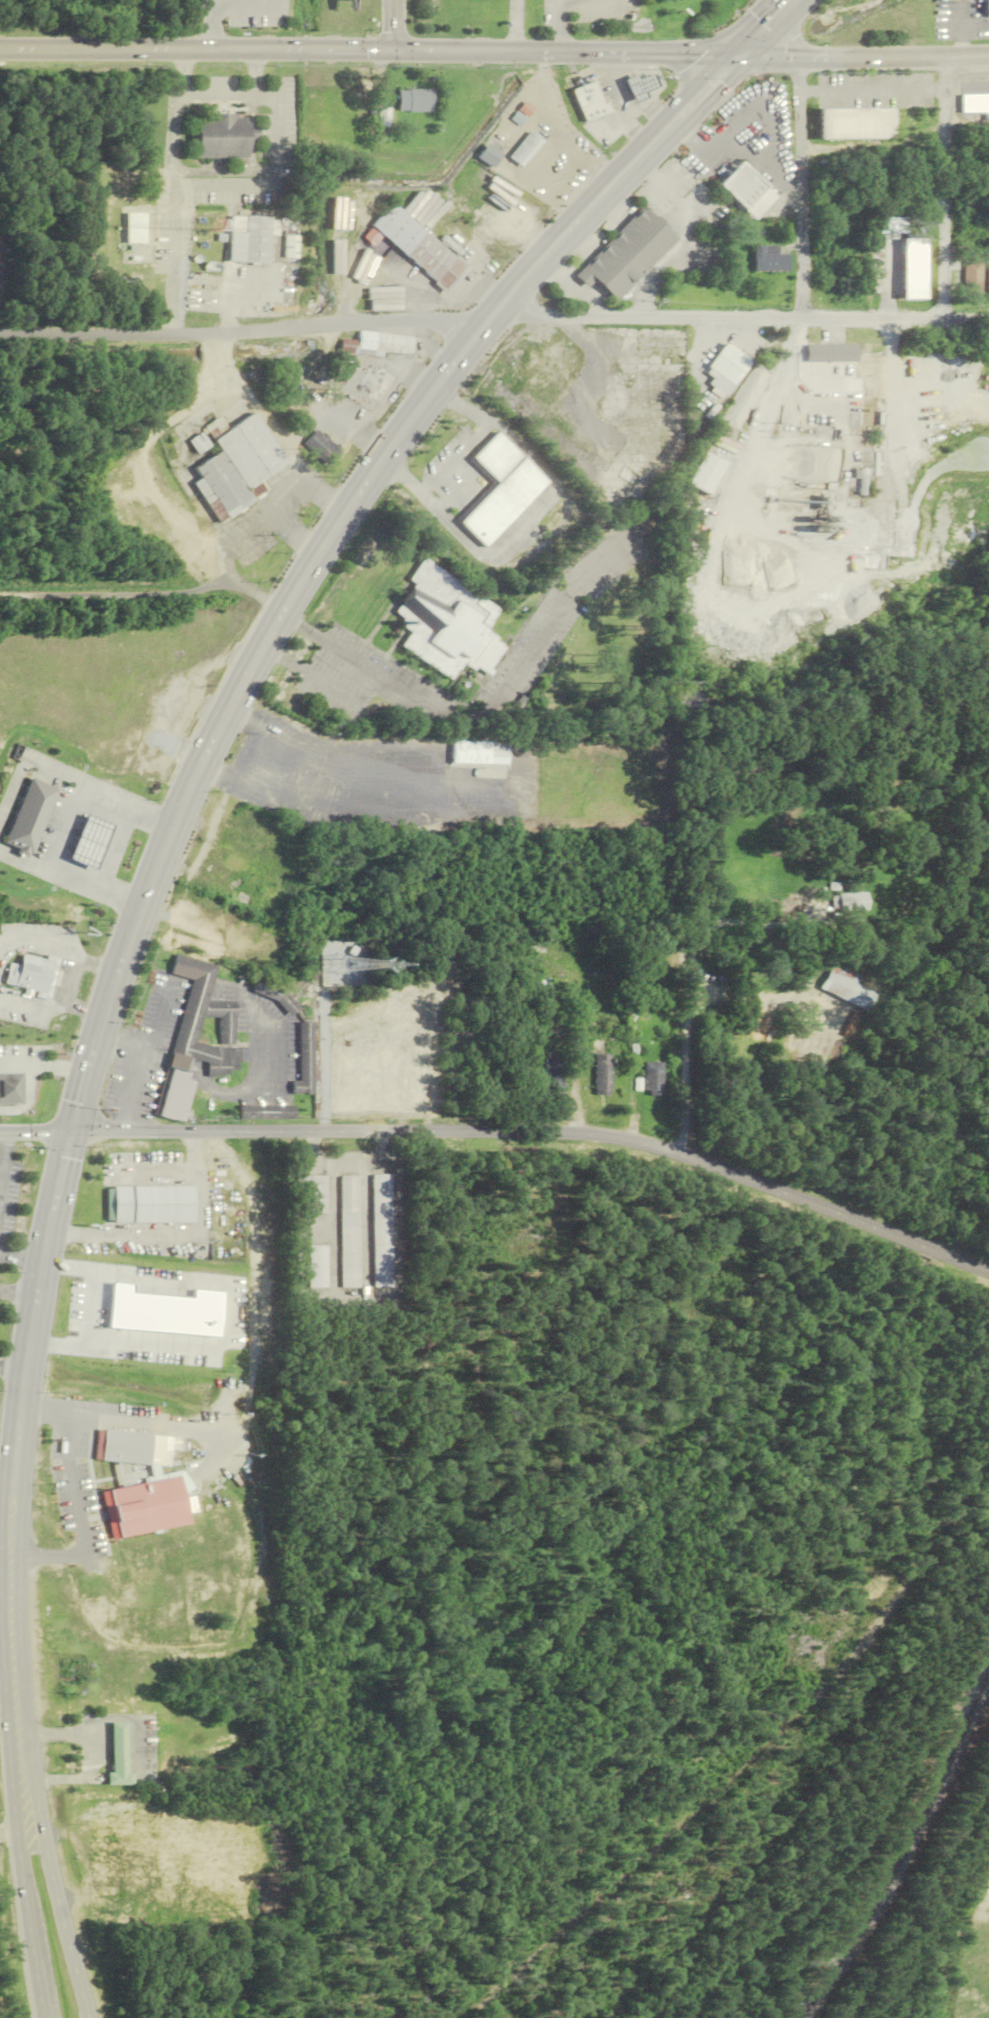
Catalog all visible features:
road: (590, 0)
building: (987, 8)
road: (396, 25)
road: (520, 26)
road: (560, 27)
road: (768, 30)
road: (197, 50)
traffic signals: (396, 51)
road: (567, 54)
road: (864, 59)
traffic signals: (739, 60)
road: (613, 61)
road: (180, 73)
road: (253, 73)
road: (622, 86)
building: (641, 87)
gas station: (641, 87)
road: (265, 95)
road: (216, 96)
building: (415, 101)
building: (590, 102)
building: (975, 105)
road: (654, 110)
building: (382, 118)
building: (856, 124)
road: (631, 126)
road: (171, 136)
building: (220, 136)
building: (251, 136)
road: (277, 143)
building: (527, 150)
building: (490, 157)
road: (243, 170)
road: (217, 186)
road: (804, 190)
road: (947, 190)
building: (748, 191)
building: (134, 228)
building: (977, 230)
building: (248, 239)
building: (289, 246)
building: (419, 248)
building: (629, 255)
road: (170, 256)
building: (770, 260)
building: (972, 278)
building: (987, 283)
road: (748, 320)
road: (240, 332)
building: (377, 345)
building: (835, 353)
building: (728, 369)
building: (199, 444)
building: (321, 447)
building: (237, 466)
building: (709, 474)
building: (504, 488)
road: (149, 595)
building: (448, 622)
road: (304, 628)
road: (387, 678)
road: (243, 692)
building: (483, 754)
building: (27, 818)
building: (93, 843)
gas station: (93, 843)
building: (110, 852)
building: (897, 857)
building: (232, 860)
building: (849, 902)
building: (345, 965)
building: (780, 971)
building: (32, 972)
building: (50, 976)
building: (853, 989)
building: (279, 995)
building: (210, 1009)
road: (690, 1010)
building: (15, 1025)
building: (306, 1058)
building: (180, 1061)
building: (603, 1075)
building: (554, 1077)
building: (654, 1079)
building: (12, 1089)
building: (176, 1095)
building: (267, 1112)
road: (505, 1132)
traffic signals: (76, 1133)
road: (4, 1160)
building: (310, 1194)
building: (154, 1204)
building: (381, 1231)
building: (349, 1232)
road: (22, 1258)
building: (317, 1267)
building: (139, 1448)
road: (2, 1487)
road: (75, 1494)
building: (151, 1508)
road: (1, 1604)
road: (20, 1605)
road: (1, 1607)
building: (118, 1758)
road: (8, 1837)
railway: (910, 1848)
road: (22, 1884)
road: (51, 1885)

